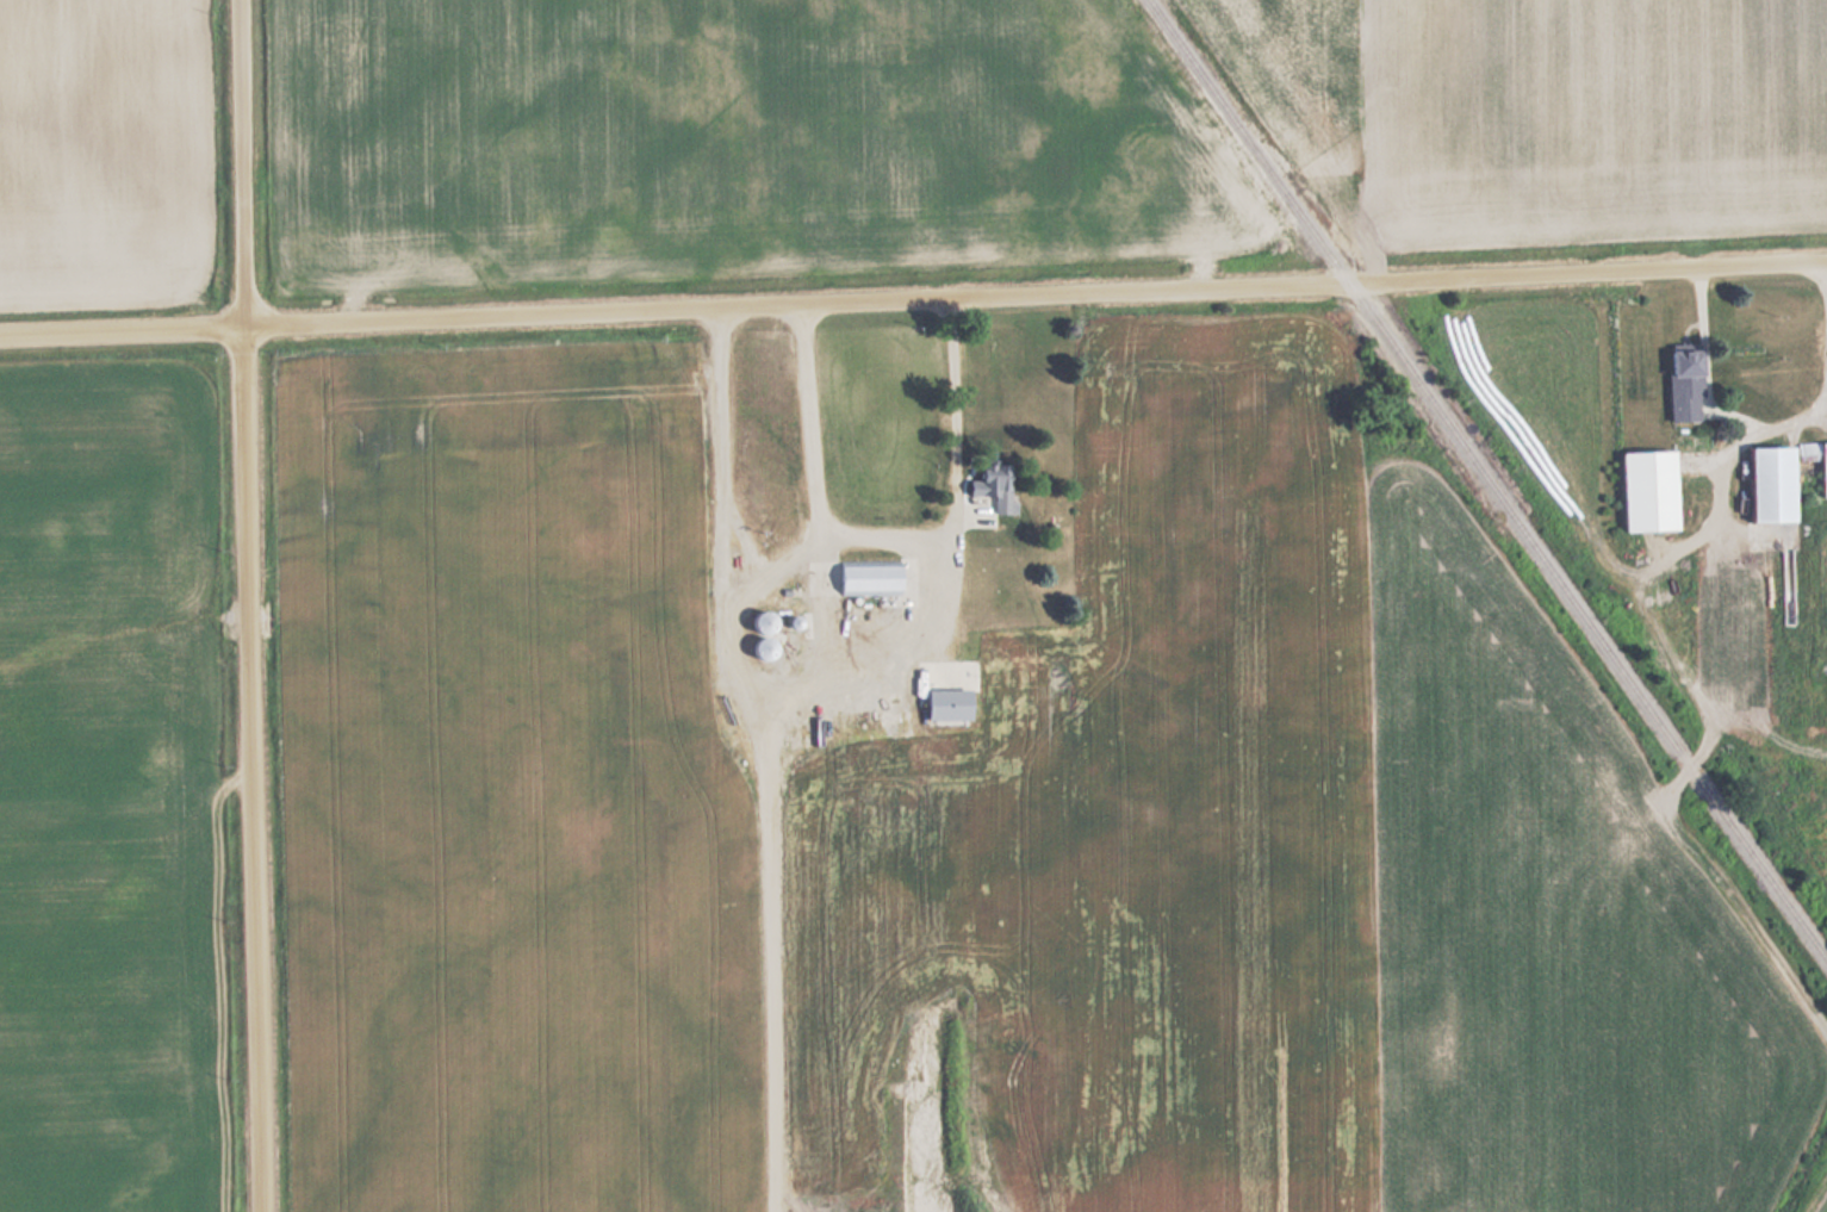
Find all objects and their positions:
road: (913, 299)
building: (1679, 363)
building: (1822, 468)
railway: (1490, 479)
building: (1766, 483)
building: (989, 485)
building: (1642, 489)
building: (864, 577)
road: (248, 605)
building: (752, 622)
building: (752, 648)
building: (851, 695)

